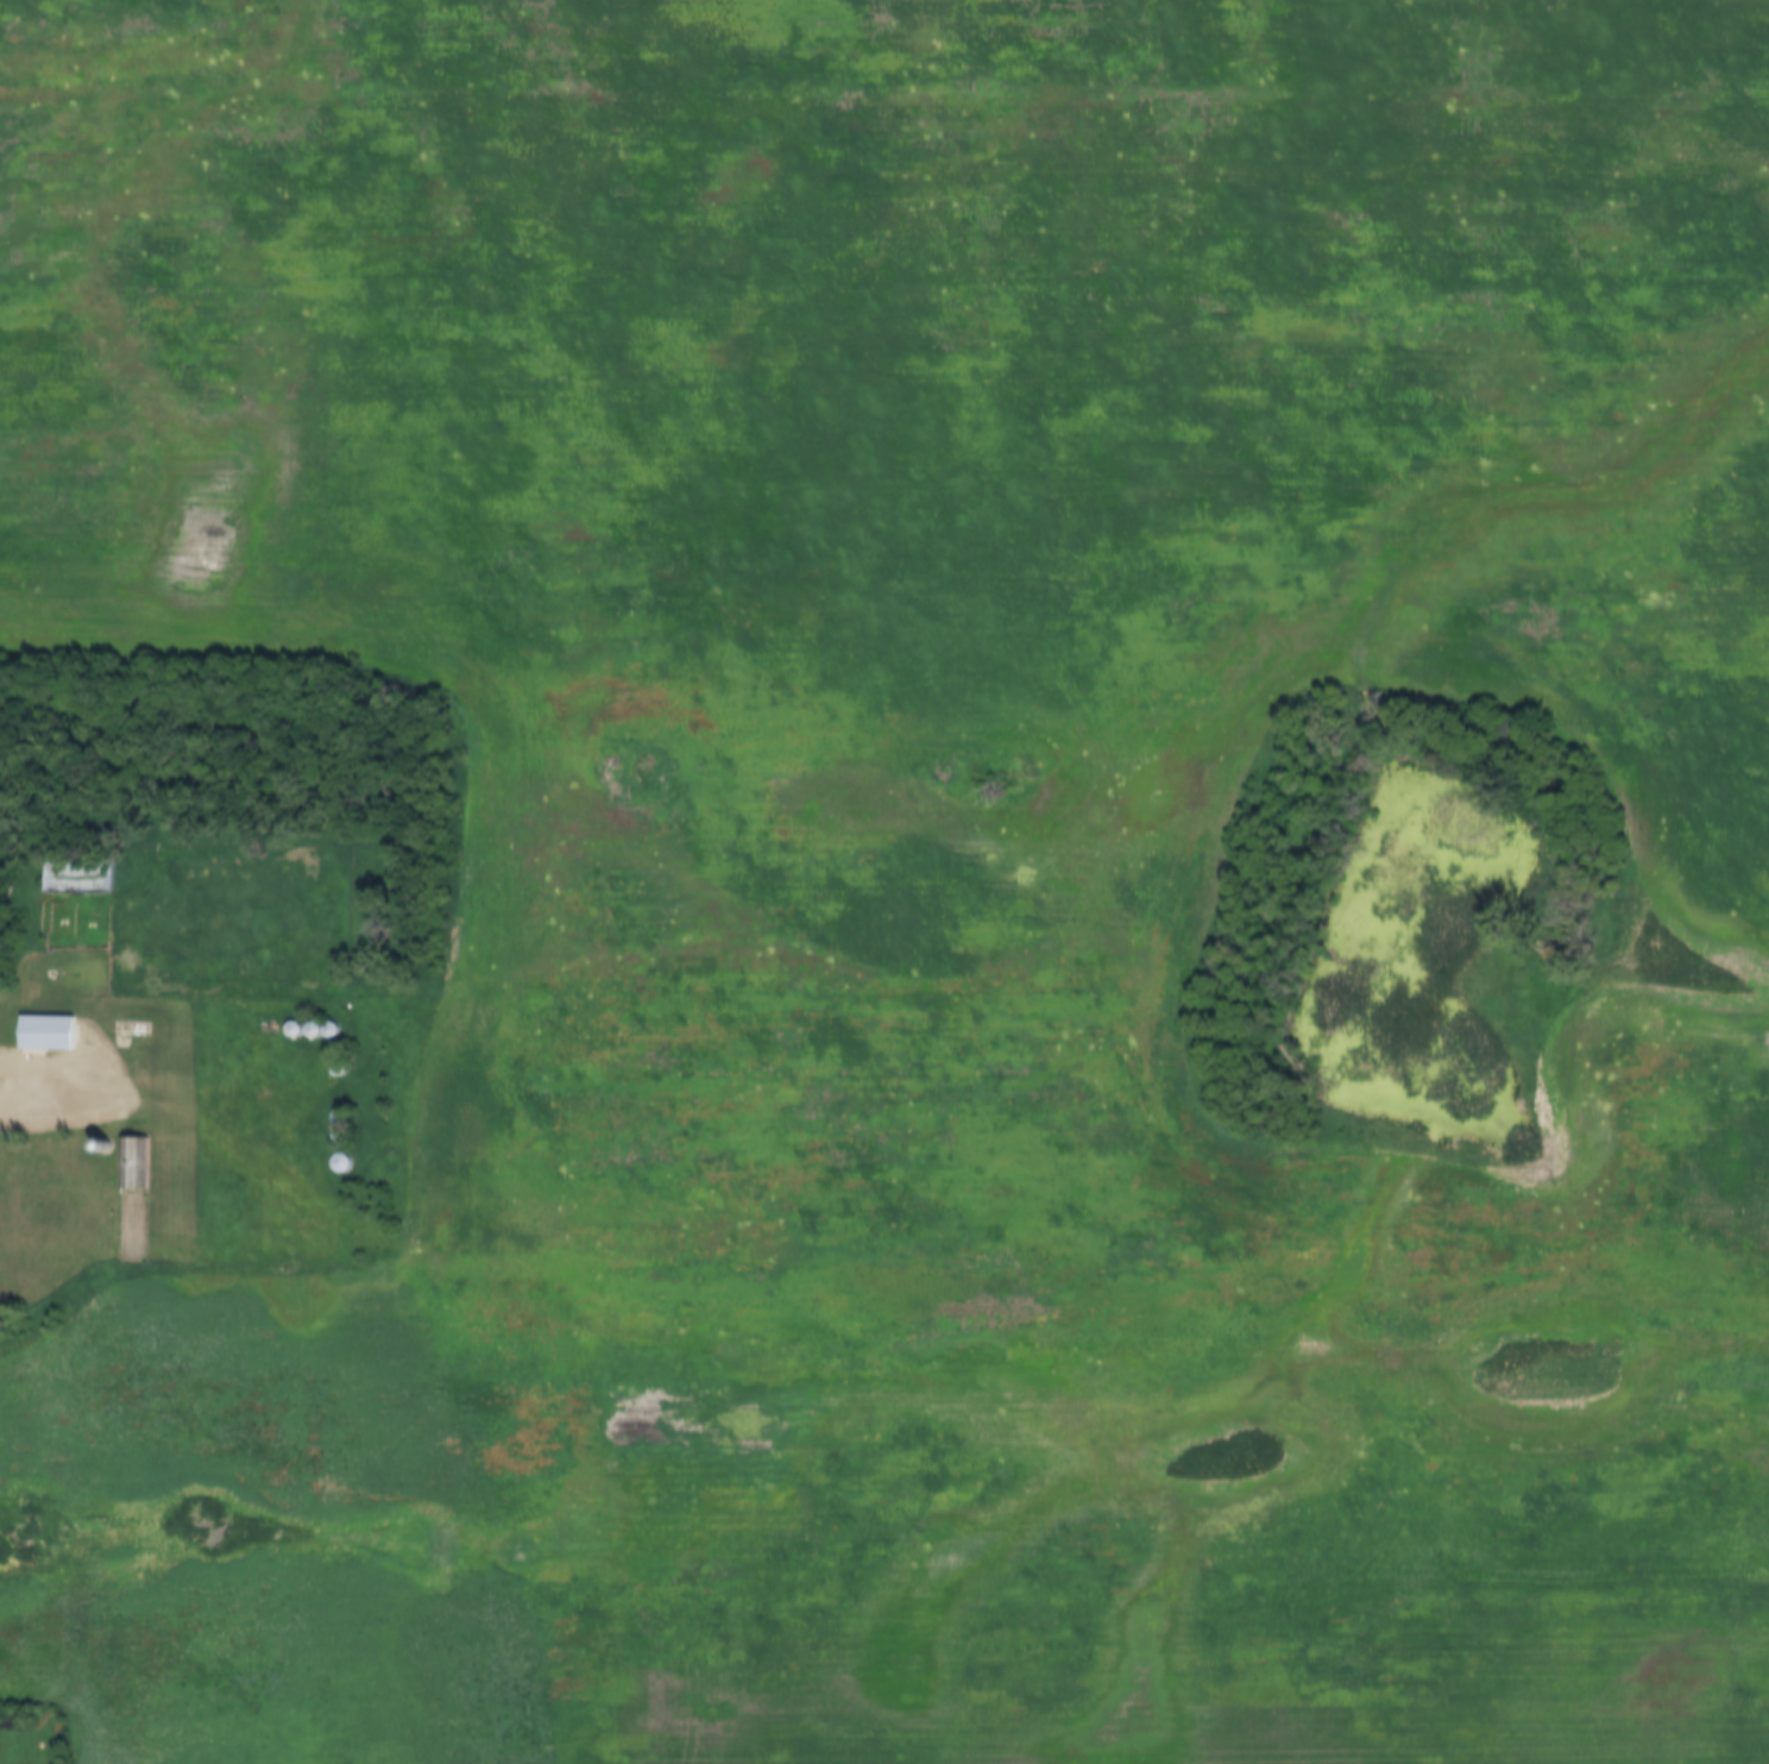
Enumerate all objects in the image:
building: (75, 879)
building: (295, 1032)
building: (49, 1036)
building: (342, 1166)
building: (133, 1167)

